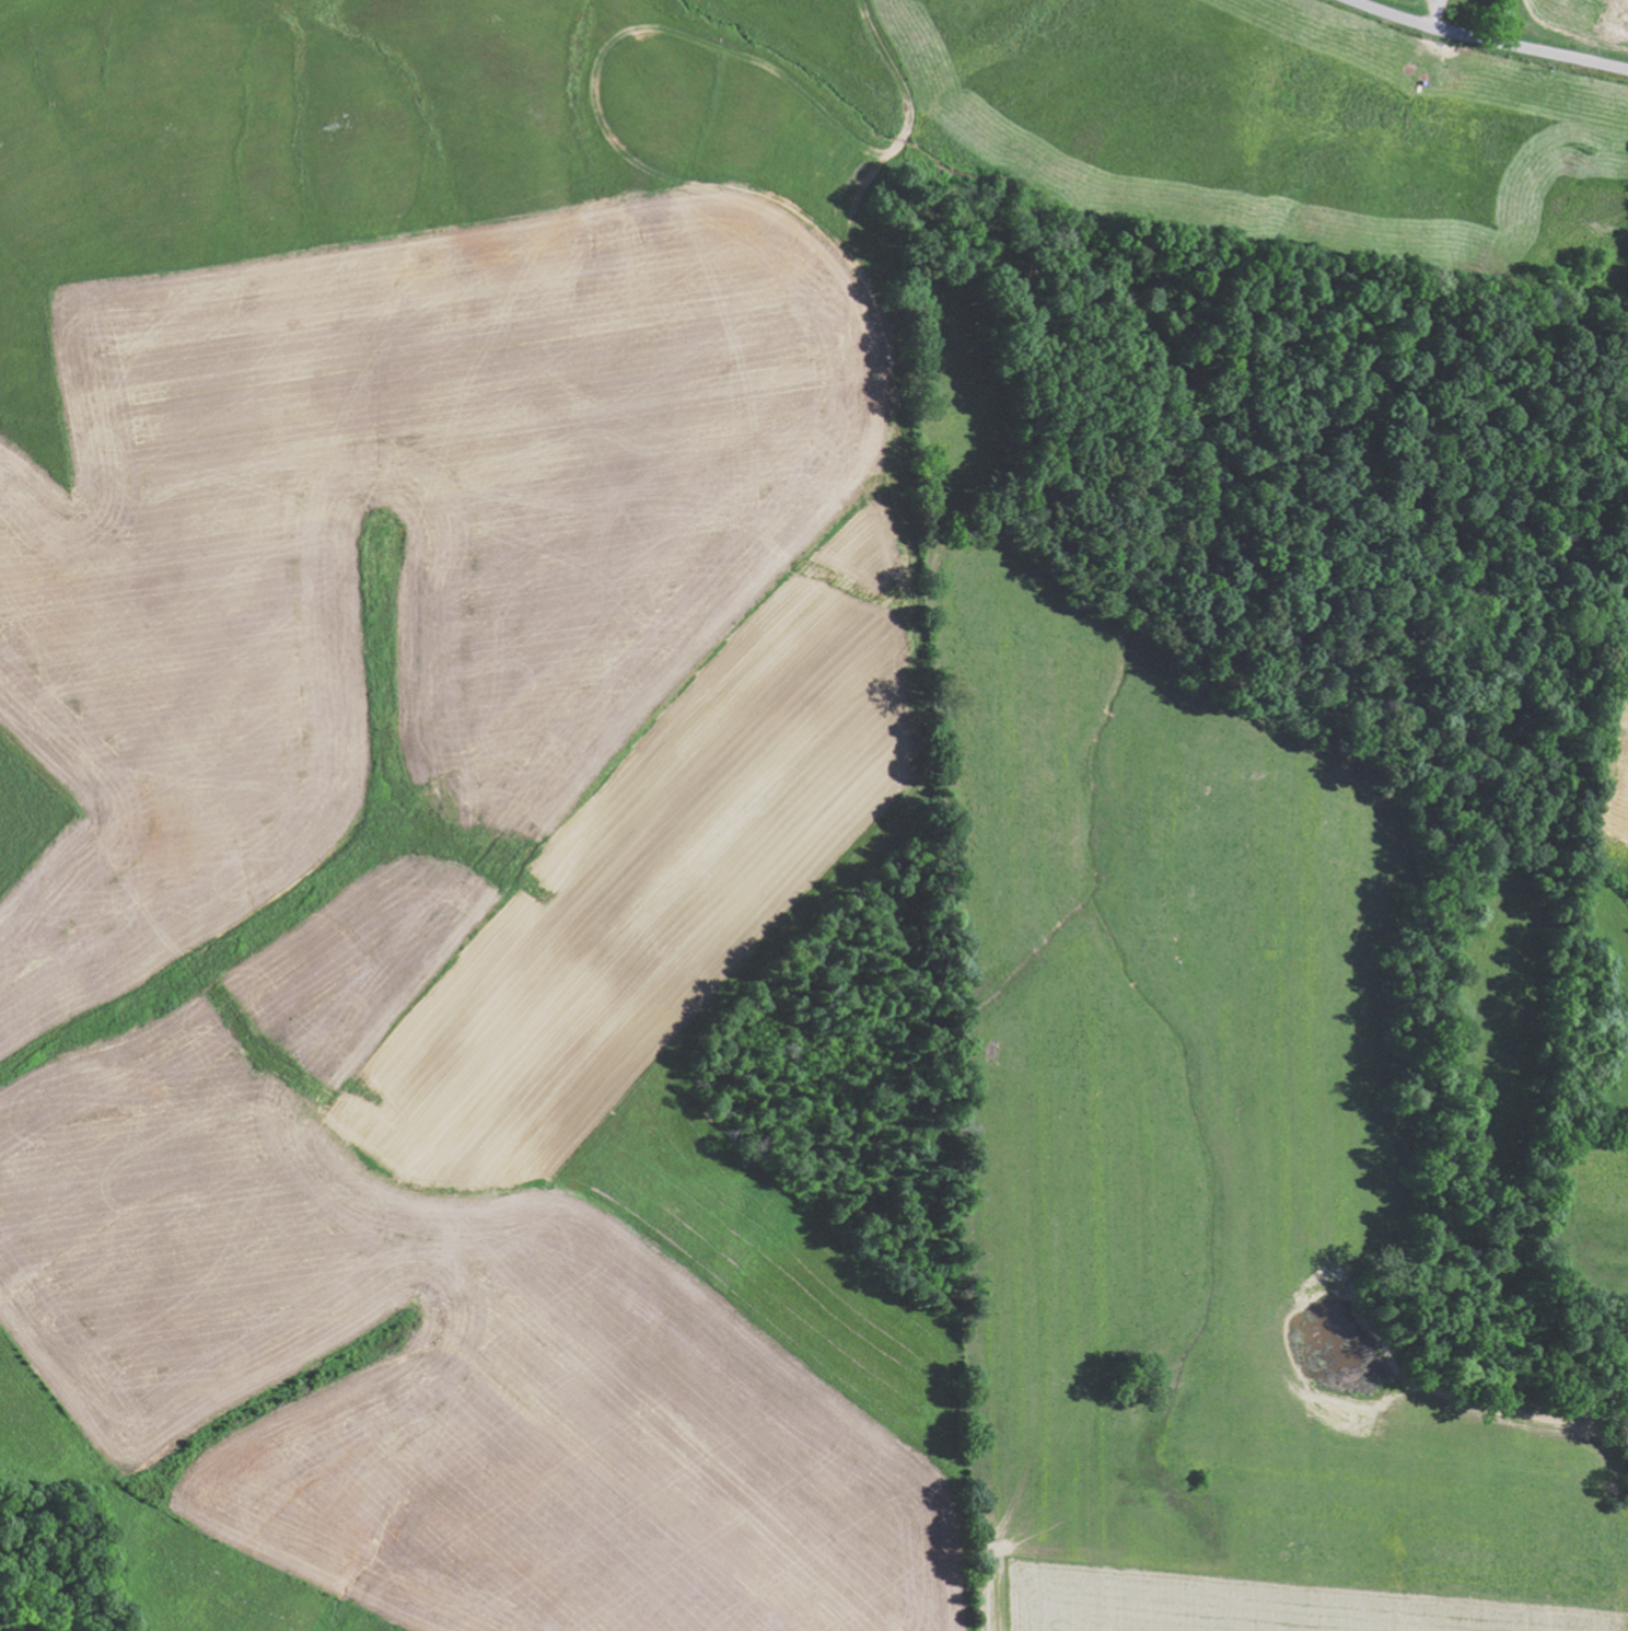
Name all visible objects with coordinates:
road: (1488, 41)

